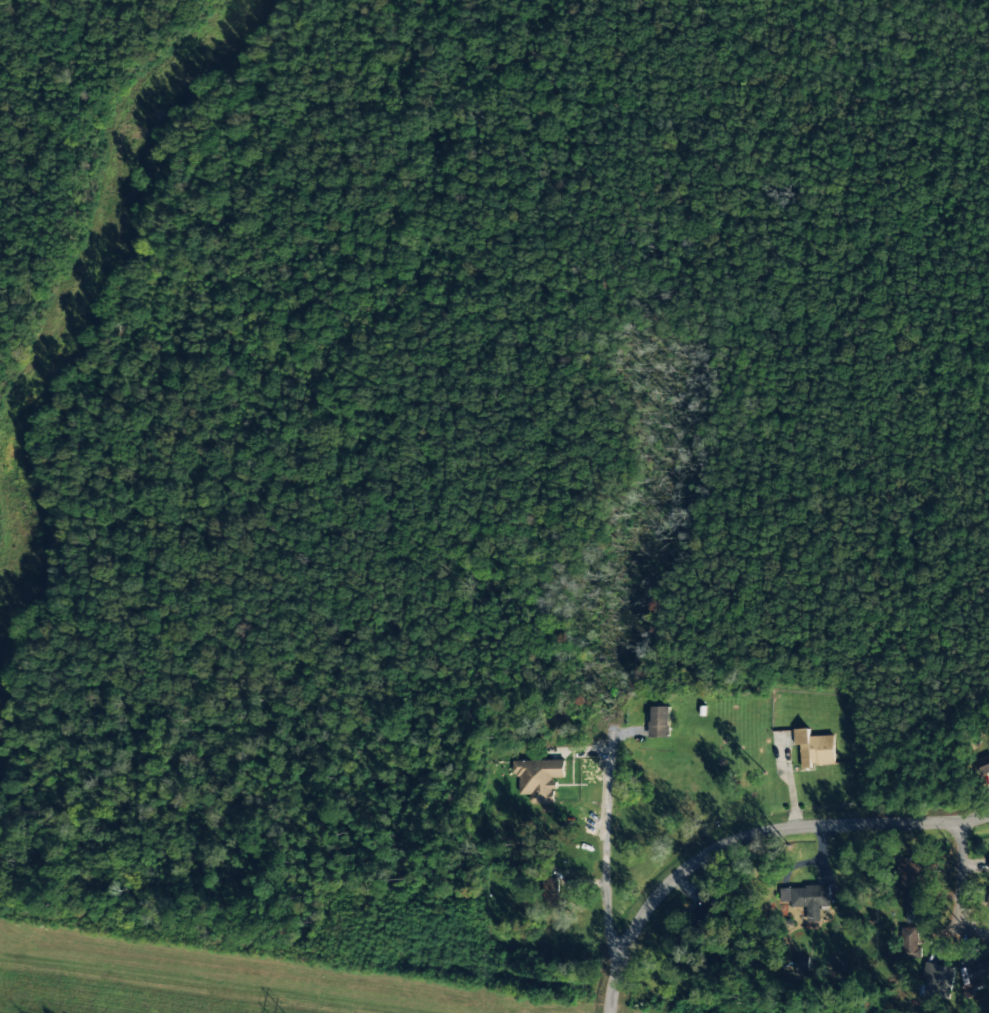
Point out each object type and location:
building: (658, 722)
building: (814, 748)
building: (982, 765)
building: (538, 778)
road: (604, 829)
road: (772, 832)
building: (913, 874)
road: (959, 874)
building: (809, 898)
building: (987, 900)
building: (914, 904)
building: (910, 941)
building: (798, 966)
building: (979, 974)

